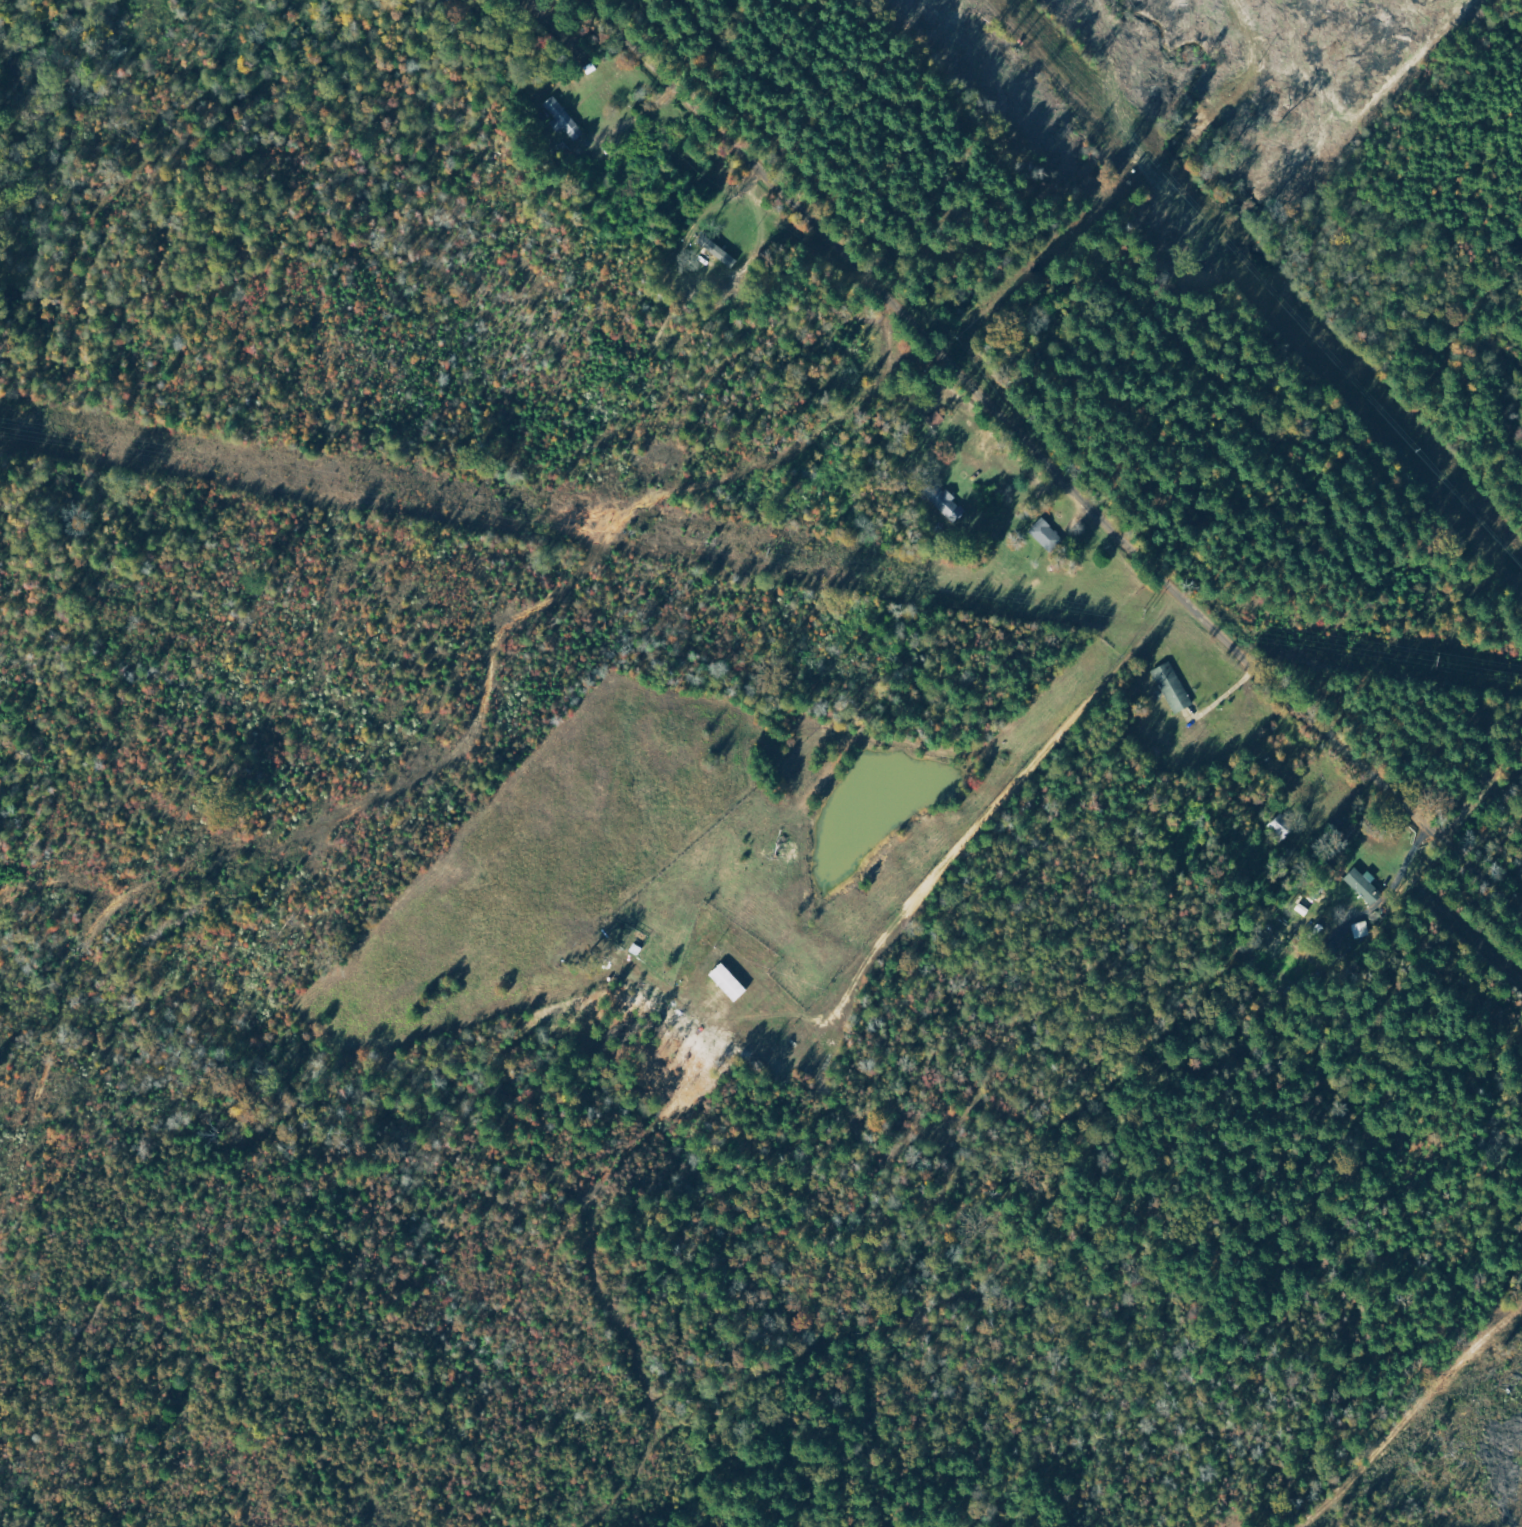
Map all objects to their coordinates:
building: (566, 122)
power tower: (9, 428)
road: (1055, 462)
power tower: (291, 474)
power tower: (576, 520)
building: (1047, 536)
power tower: (861, 567)
power tower: (1147, 613)
power tower: (1440, 658)
building: (1174, 687)
building: (1367, 888)

